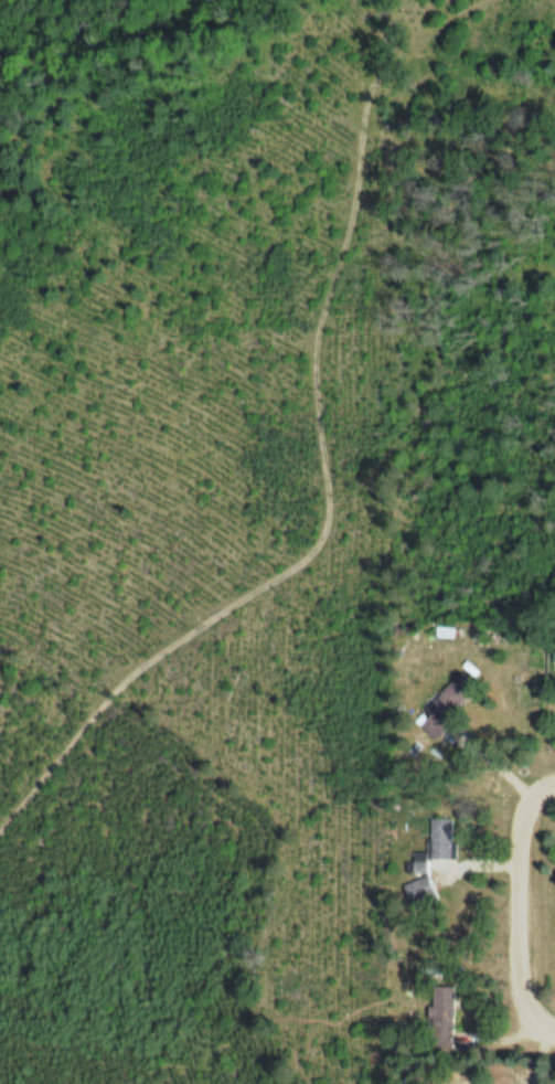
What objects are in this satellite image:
building: (445, 699)
building: (438, 837)
building: (417, 891)
road: (520, 914)
building: (439, 1014)

